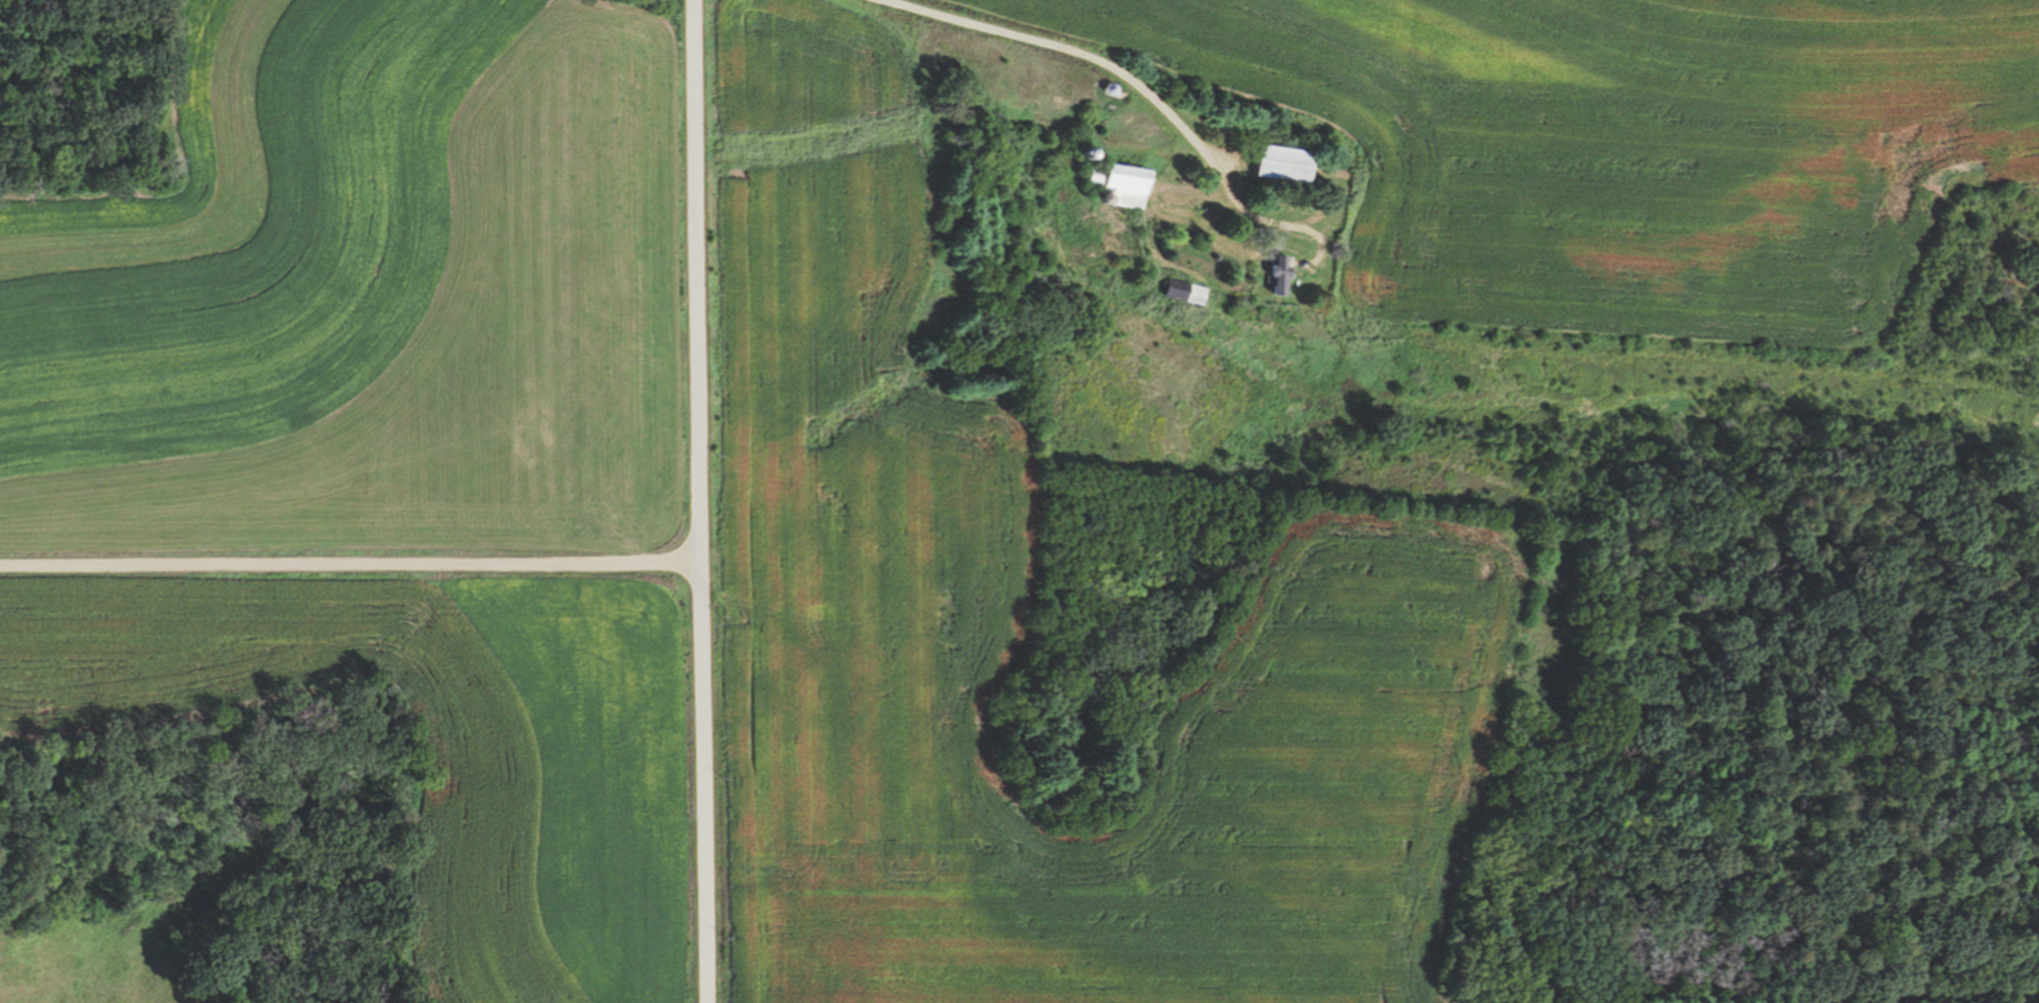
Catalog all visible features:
road: (1146, 93)
building: (1290, 163)
building: (1125, 181)
building: (1283, 273)
building: (1190, 291)
road: (699, 501)
road: (350, 565)

